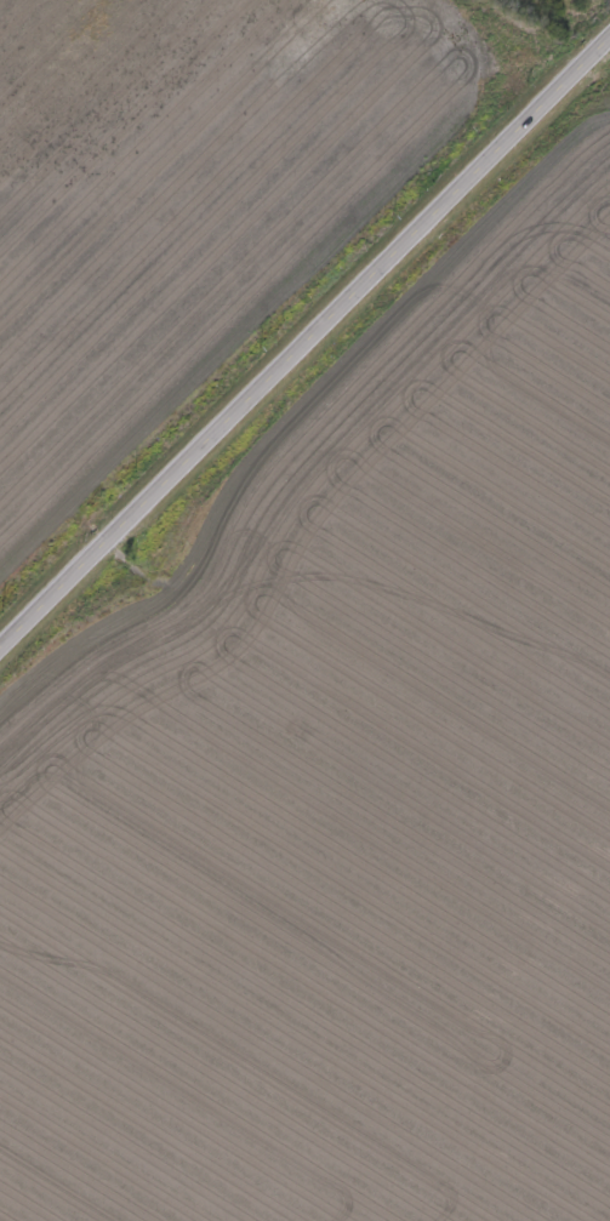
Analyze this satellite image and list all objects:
crop: (199, 207)
road: (304, 340)

